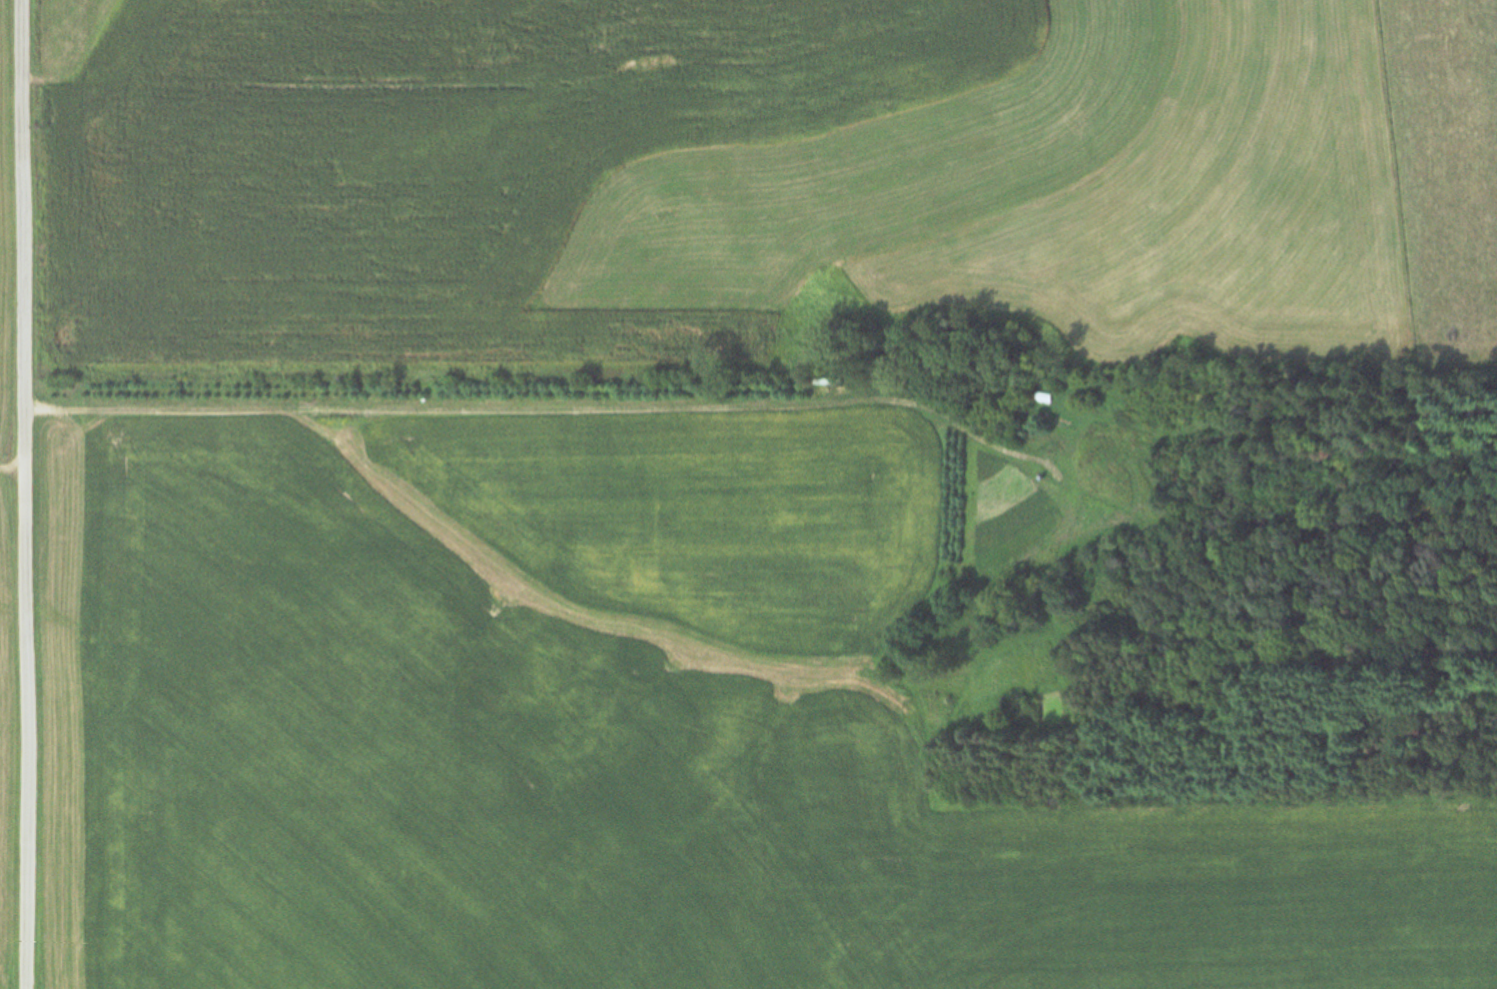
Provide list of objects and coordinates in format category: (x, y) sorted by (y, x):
road: (563, 407)
road: (11, 469)
road: (22, 494)

